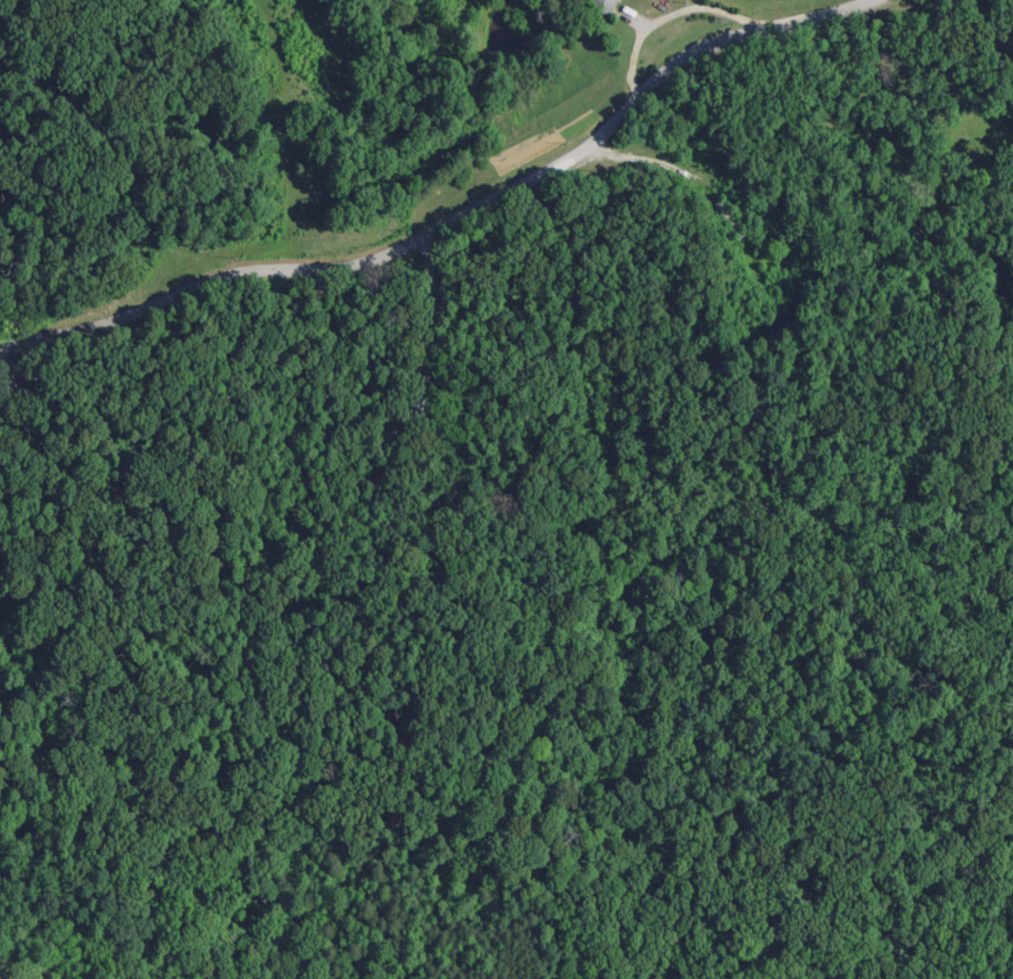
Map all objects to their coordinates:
building: (612, 2)
road: (646, 158)
road: (450, 214)
building: (729, 218)

